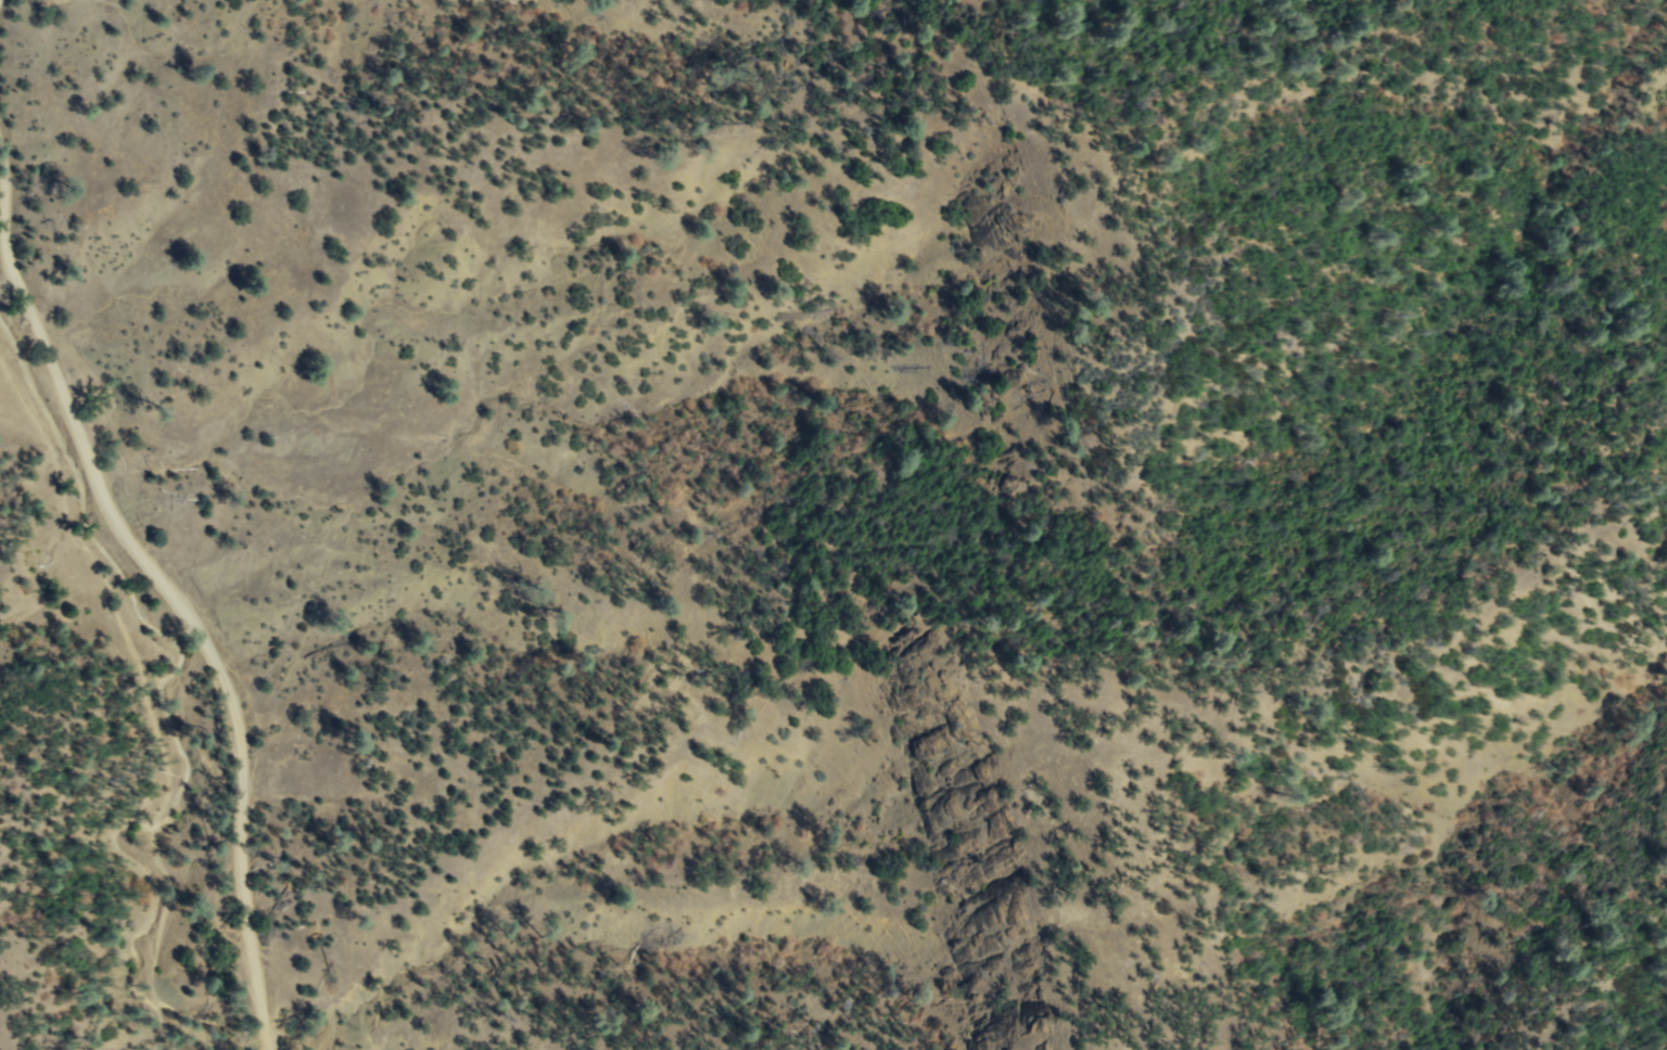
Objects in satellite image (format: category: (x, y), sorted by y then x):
road: (138, 529)

